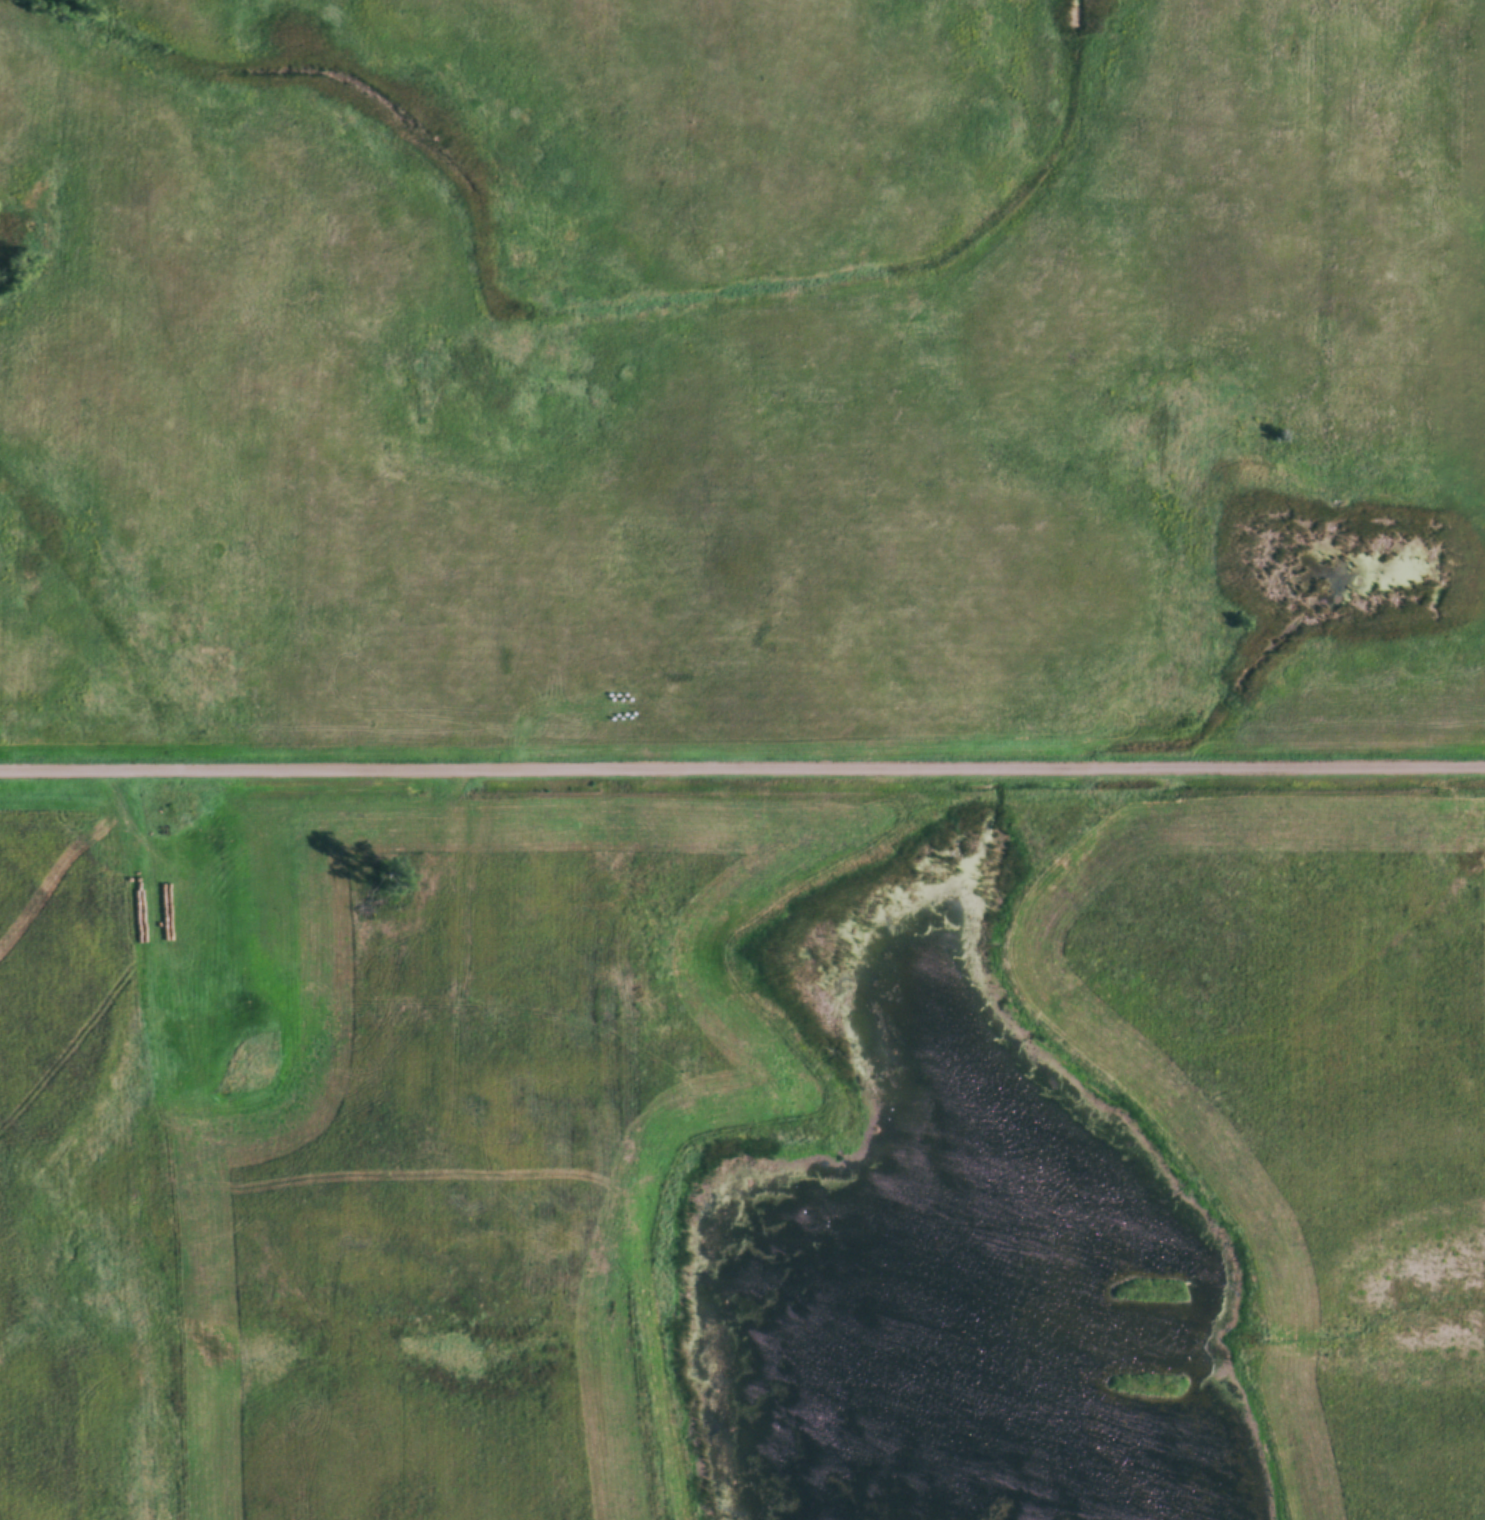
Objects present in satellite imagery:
road: (742, 764)

